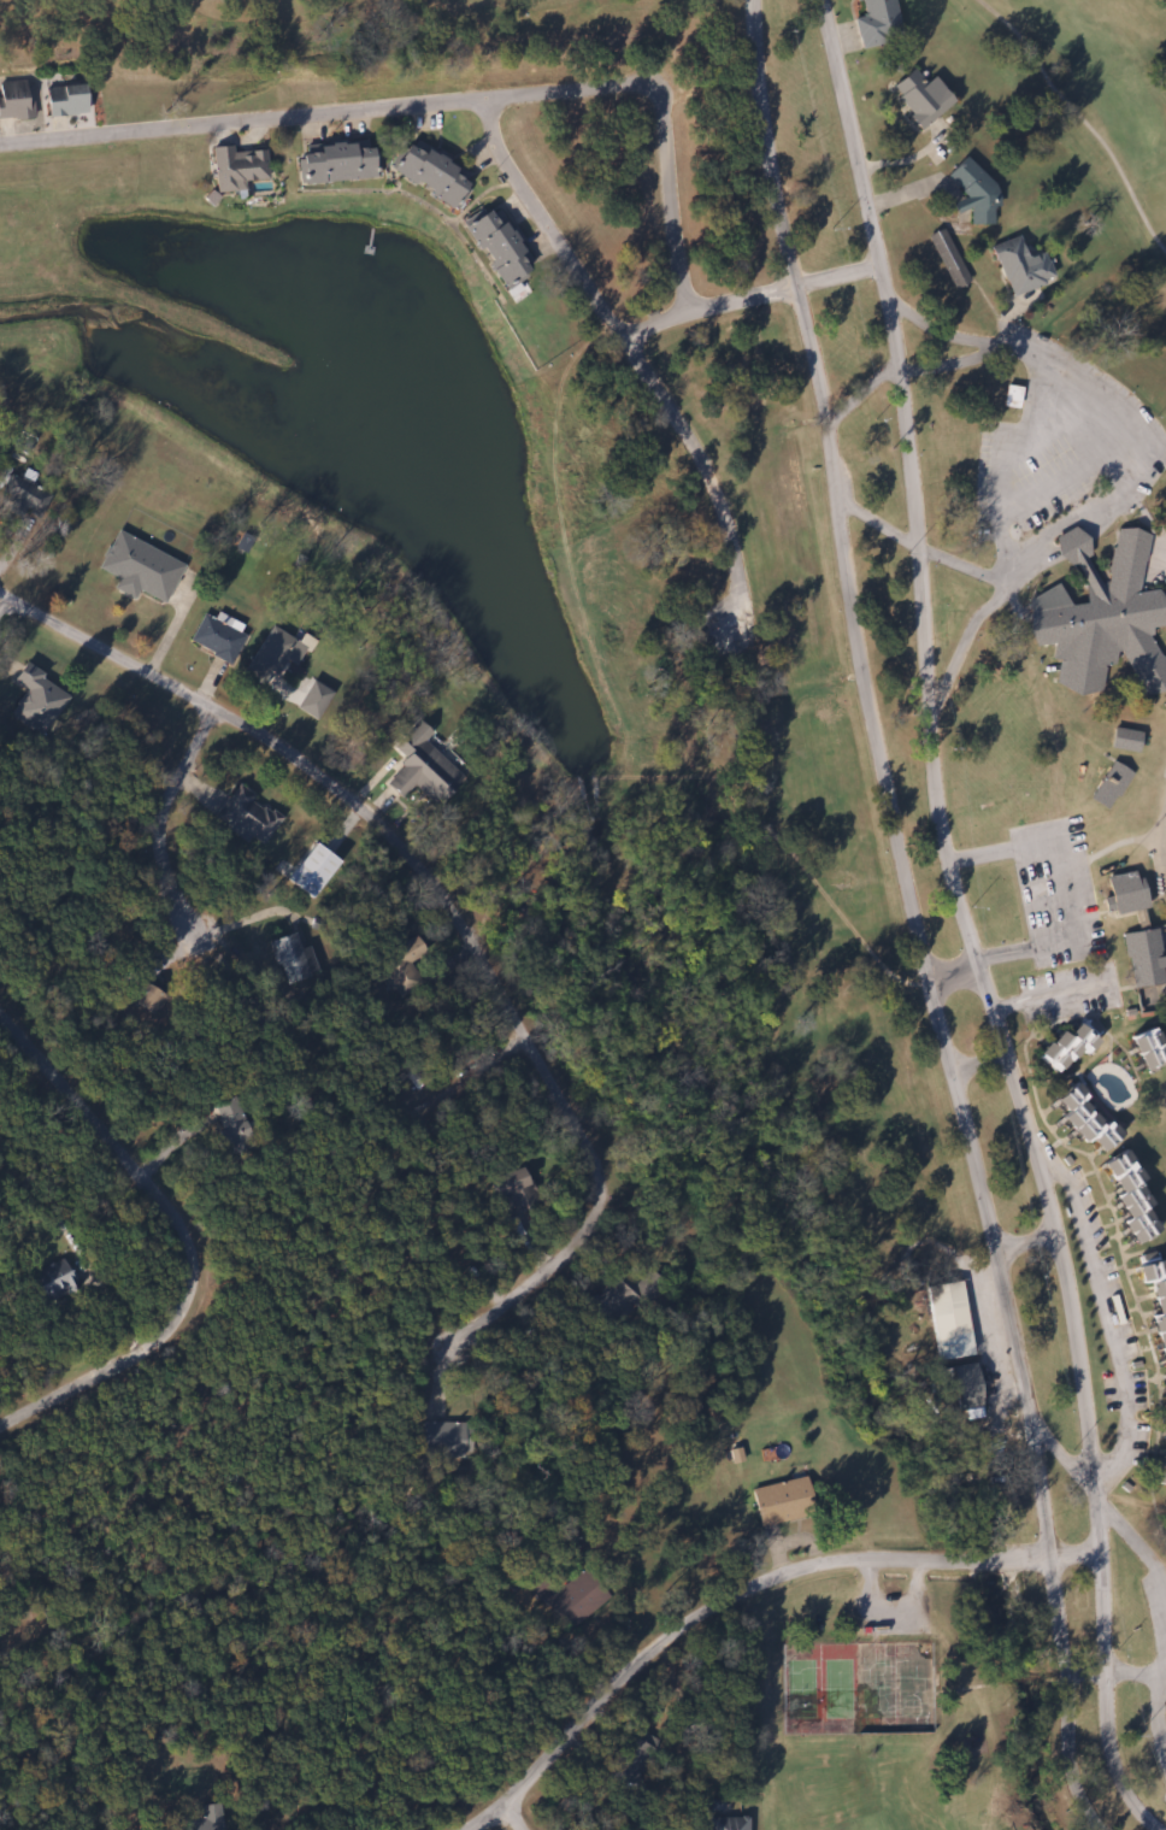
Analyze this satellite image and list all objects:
building: (876, 23)
building: (920, 96)
building: (16, 100)
building: (65, 100)
road: (443, 104)
building: (336, 161)
building: (236, 169)
building: (431, 173)
building: (972, 193)
road: (547, 224)
building: (500, 248)
building: (948, 258)
building: (1018, 266)
road: (838, 278)
road: (742, 304)
road: (658, 325)
building: (1009, 396)
road: (860, 399)
road: (703, 476)
building: (23, 495)
building: (137, 569)
road: (995, 578)
building: (1100, 618)
building: (214, 639)
road: (956, 654)
building: (271, 655)
building: (312, 699)
building: (37, 700)
building: (1124, 740)
building: (419, 767)
building: (1109, 785)
building: (243, 816)
road: (388, 824)
road: (173, 864)
building: (1125, 895)
road: (1049, 917)
road: (913, 922)
road: (965, 925)
building: (285, 959)
building: (1142, 959)
road: (1053, 989)
building: (143, 1000)
building: (1065, 1046)
building: (1144, 1048)
road: (481, 1064)
building: (1079, 1119)
building: (228, 1128)
building: (514, 1191)
building: (1125, 1196)
road: (189, 1236)
road: (1035, 1242)
building: (52, 1282)
road: (528, 1285)
building: (609, 1301)
building: (1153, 1307)
road: (1126, 1317)
building: (946, 1320)
building: (961, 1387)
building: (1161, 1411)
building: (442, 1440)
road: (1072, 1461)
building: (1158, 1469)
building: (779, 1501)
road: (1131, 1529)
road: (1078, 1554)
building: (571, 1597)
road: (724, 1606)
road: (1088, 1670)
road: (1162, 1708)
road: (525, 1814)
building: (198, 1819)
building: (728, 1823)

